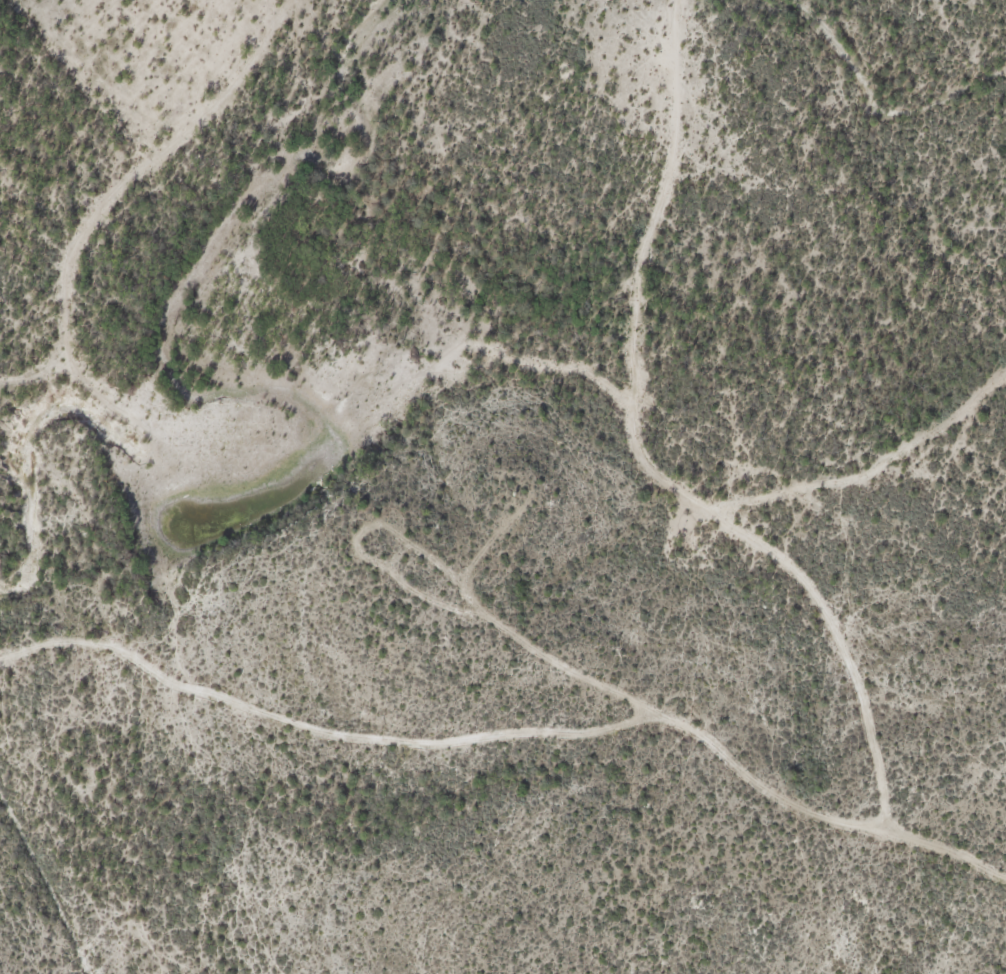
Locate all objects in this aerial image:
road: (200, 689)

